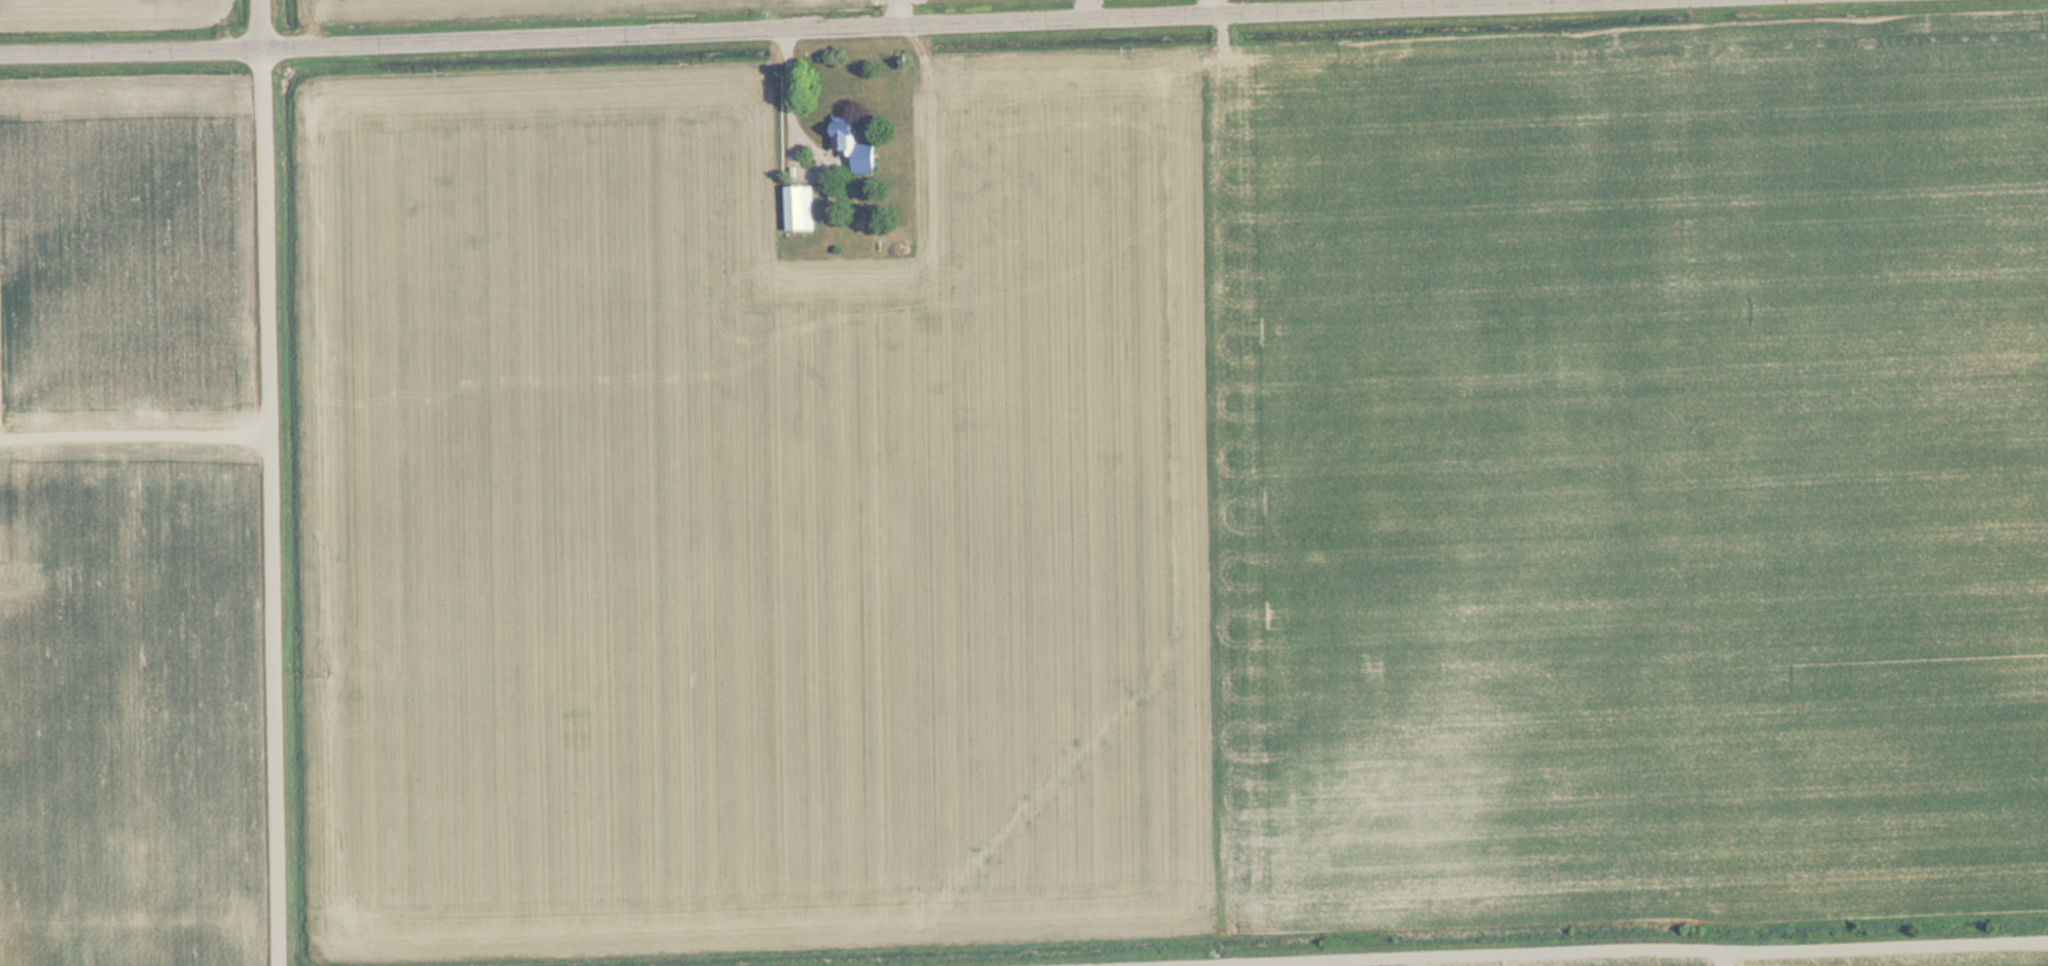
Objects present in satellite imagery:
road: (1211, 4)
road: (742, 24)
building: (855, 145)
building: (797, 208)
road: (279, 483)

